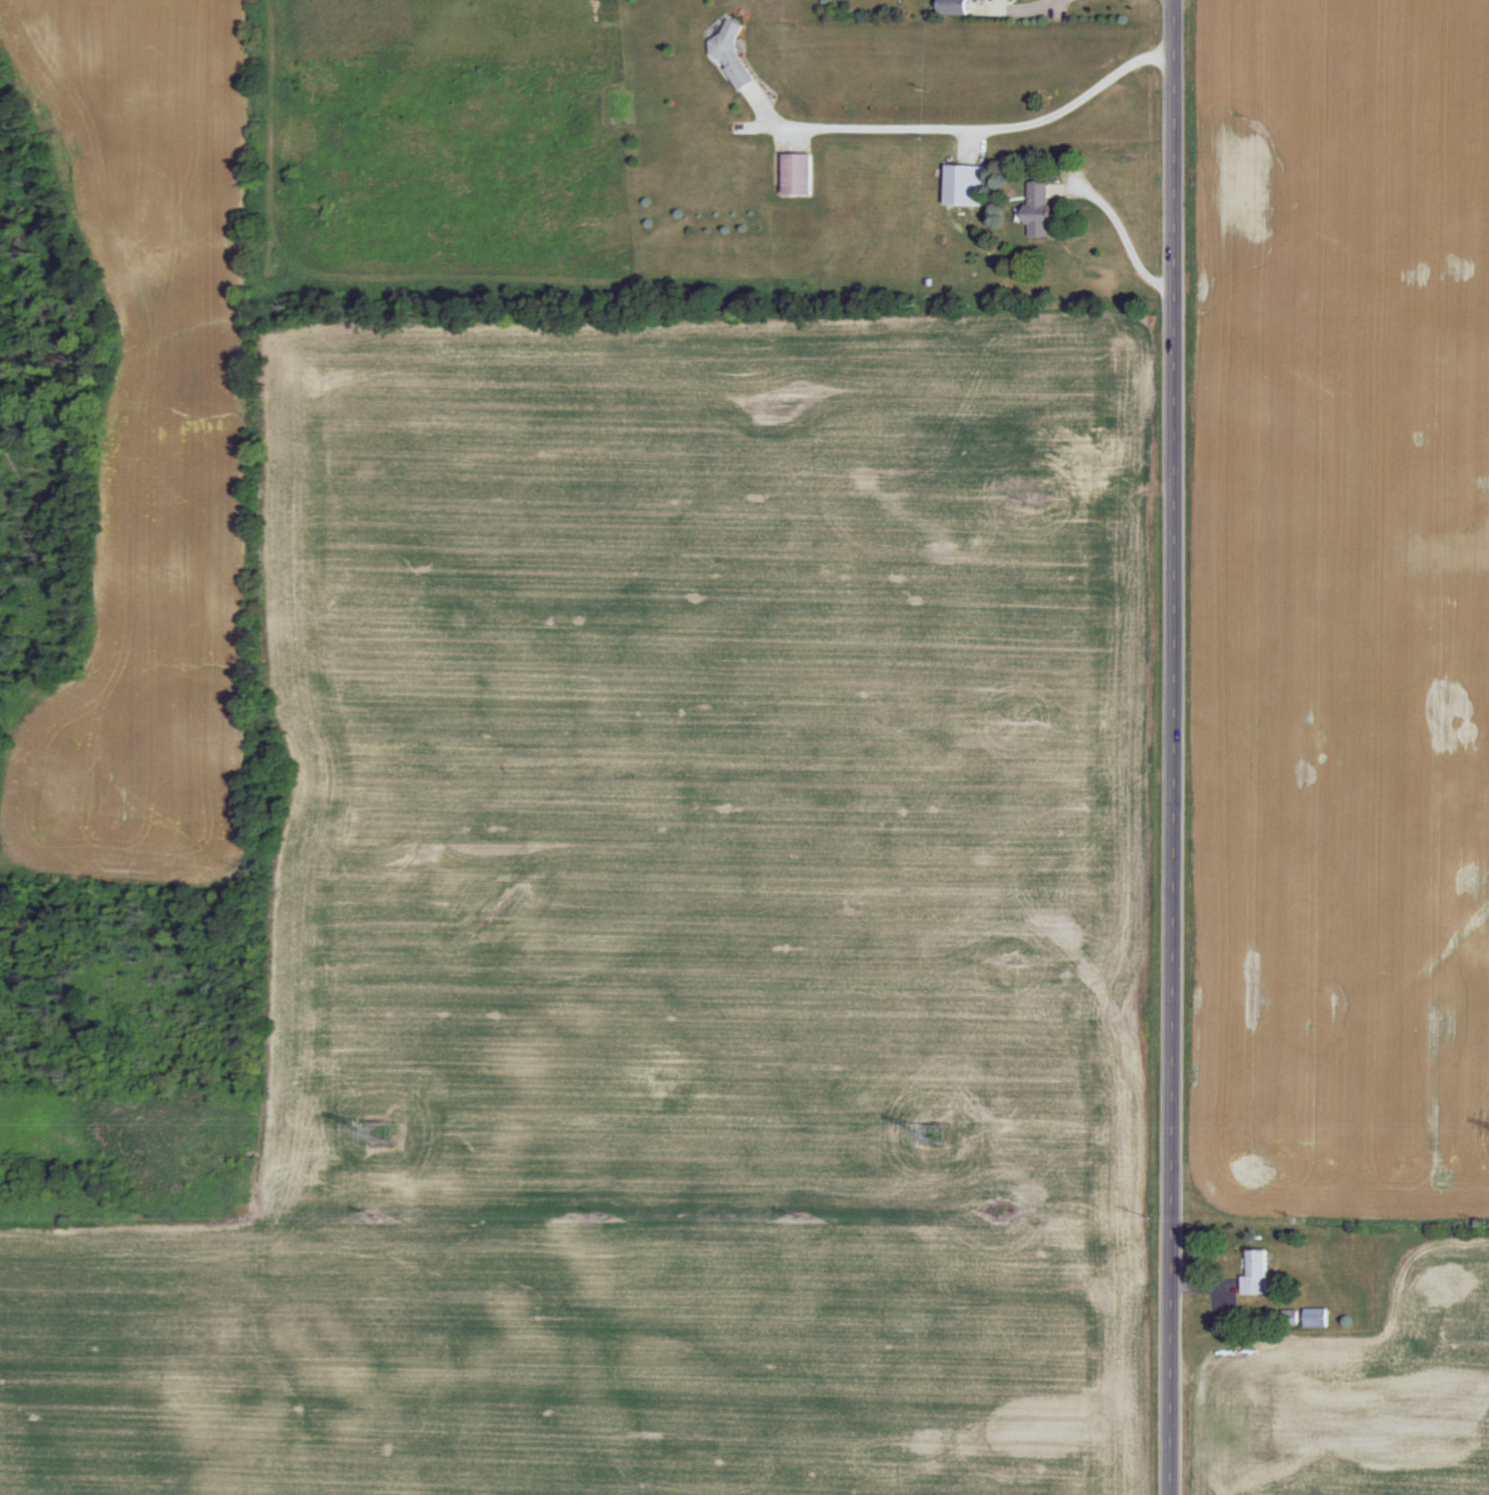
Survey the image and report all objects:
building: (998, 0)
building: (952, 6)
road: (1029, 6)
building: (731, 48)
road: (977, 130)
building: (797, 175)
building: (960, 185)
building: (1036, 208)
road: (1122, 232)
crop: (1328, 743)
road: (1168, 747)
crop: (583, 748)
power tower: (382, 1132)
power tower: (936, 1134)
building: (1256, 1272)
building: (1315, 1317)
building: (1291, 1318)

